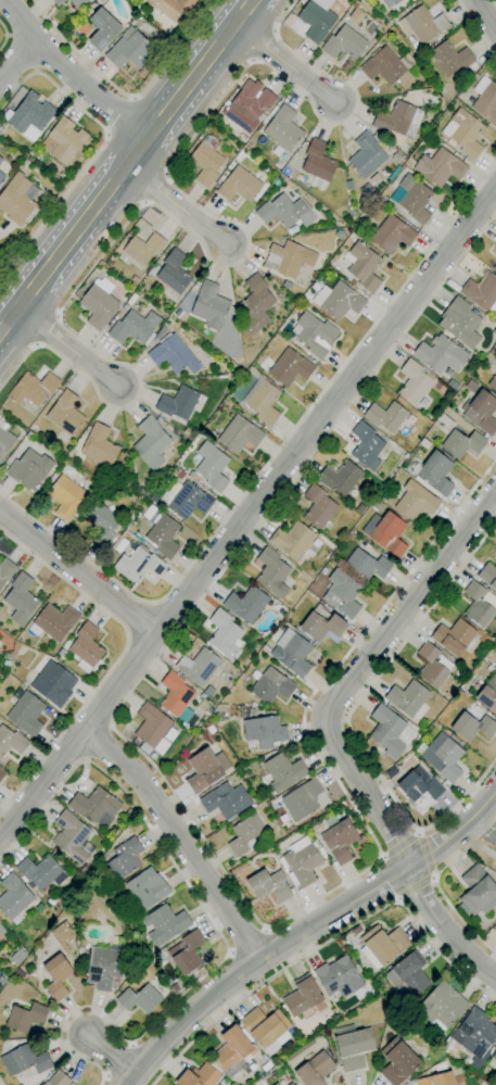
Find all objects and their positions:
building: (395, 1)
building: (58, 2)
building: (77, 3)
road: (493, 3)
building: (171, 7)
building: (356, 15)
road: (483, 18)
building: (316, 20)
building: (421, 24)
road: (475, 27)
building: (102, 29)
road: (4, 35)
building: (343, 43)
building: (129, 50)
road: (16, 56)
building: (450, 58)
road: (283, 61)
building: (385, 66)
road: (71, 75)
road: (125, 96)
building: (485, 100)
building: (247, 105)
road: (114, 113)
building: (29, 116)
building: (398, 119)
building: (282, 128)
building: (463, 134)
building: (62, 140)
road: (99, 149)
building: (366, 155)
building: (205, 157)
building: (0, 161)
building: (317, 161)
road: (125, 165)
building: (440, 167)
building: (2, 178)
building: (239, 185)
building: (411, 198)
building: (17, 199)
road: (176, 203)
building: (284, 212)
building: (392, 235)
building: (495, 245)
building: (143, 249)
building: (288, 258)
road: (237, 261)
building: (363, 266)
building: (495, 267)
building: (153, 269)
road: (17, 272)
building: (173, 273)
building: (481, 292)
building: (256, 300)
building: (338, 300)
building: (98, 304)
building: (209, 306)
building: (460, 323)
building: (133, 328)
building: (315, 335)
road: (63, 350)
building: (441, 354)
building: (173, 355)
building: (290, 368)
building: (414, 381)
building: (493, 383)
building: (33, 389)
building: (263, 400)
building: (178, 403)
building: (482, 413)
building: (65, 414)
building: (385, 416)
building: (188, 433)
building: (239, 434)
building: (4, 439)
building: (150, 443)
building: (462, 443)
building: (99, 445)
building: (366, 447)
road: (269, 459)
building: (211, 466)
building: (29, 469)
building: (433, 474)
building: (340, 478)
building: (143, 491)
building: (65, 496)
building: (153, 497)
building: (187, 501)
building: (415, 501)
building: (318, 507)
road: (246, 510)
building: (101, 523)
building: (389, 534)
building: (163, 535)
building: (292, 540)
building: (139, 565)
building: (366, 565)
building: (5, 570)
road: (76, 571)
building: (271, 573)
building: (488, 576)
building: (344, 593)
building: (21, 597)
building: (245, 604)
building: (479, 605)
building: (53, 622)
building: (321, 624)
building: (224, 634)
building: (453, 636)
building: (86, 647)
building: (291, 653)
road: (115, 659)
building: (495, 660)
building: (432, 665)
building: (198, 666)
building: (53, 683)
building: (271, 686)
building: (487, 694)
building: (176, 698)
building: (408, 699)
building: (260, 706)
building: (25, 711)
road: (346, 718)
building: (472, 727)
building: (152, 730)
building: (265, 731)
building: (389, 731)
road: (339, 734)
building: (11, 741)
building: (445, 756)
building: (205, 769)
building: (283, 772)
building: (1, 774)
building: (419, 790)
building: (302, 799)
building: (225, 800)
building: (96, 806)
road: (185, 813)
road: (485, 827)
road: (178, 835)
building: (245, 835)
building: (72, 837)
building: (339, 838)
road: (397, 844)
road: (425, 853)
building: (124, 858)
building: (300, 862)
building: (40, 872)
road: (433, 882)
building: (268, 885)
road: (415, 886)
building: (147, 888)
building: (476, 892)
building: (13, 896)
building: (165, 924)
road: (215, 928)
building: (2, 929)
road: (305, 929)
road: (245, 941)
road: (325, 942)
building: (382, 946)
building: (186, 952)
building: (104, 967)
building: (407, 975)
building: (56, 976)
building: (338, 977)
building: (303, 997)
building: (139, 998)
building: (441, 1005)
building: (25, 1018)
building: (266, 1029)
building: (474, 1033)
building: (352, 1047)
building: (232, 1051)
building: (494, 1056)
road: (112, 1057)
building: (24, 1060)
building: (397, 1061)
building: (314, 1070)
building: (200, 1076)
building: (58, 1078)
building: (436, 1080)
building: (457, 1080)
building: (276, 1084)
building: (290, 1084)

